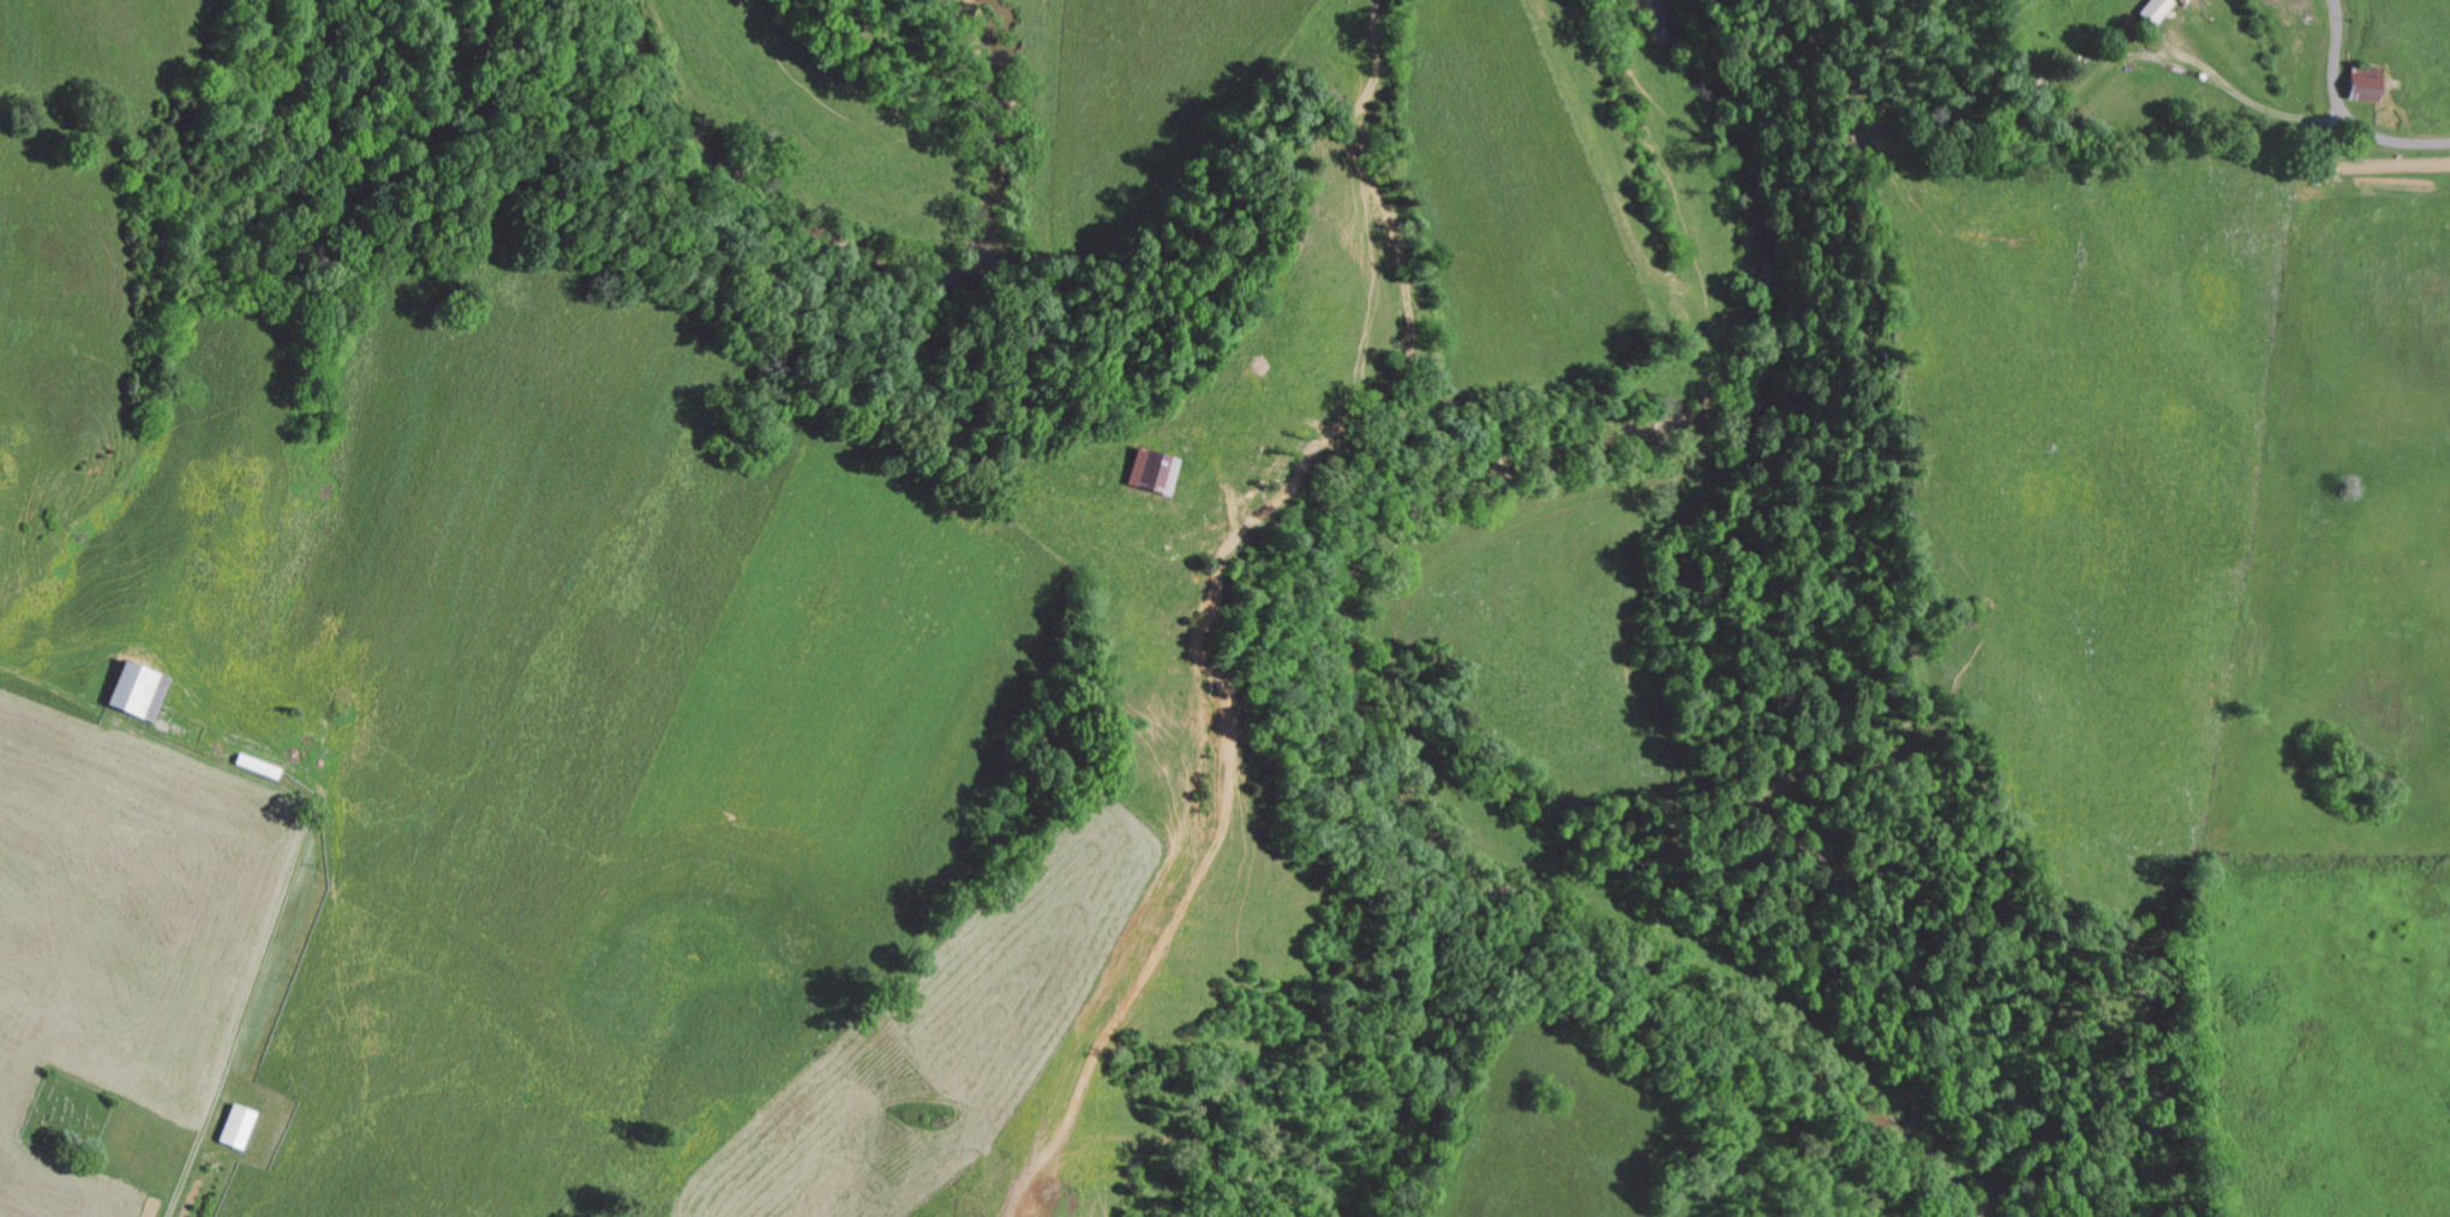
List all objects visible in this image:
building: (2158, 10)
building: (2129, 29)
building: (2368, 86)
road: (2346, 110)
building: (1155, 468)
building: (139, 689)
road: (256, 945)
building: (240, 1125)

